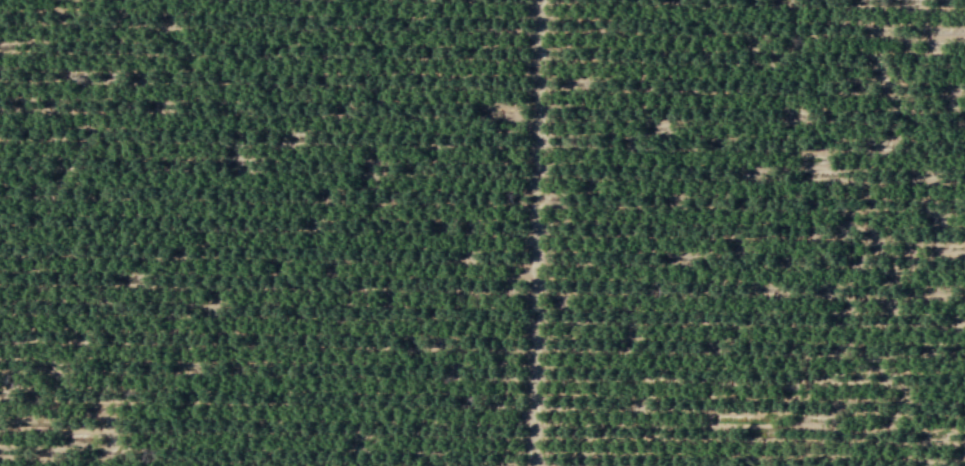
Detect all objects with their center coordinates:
road: (533, 233)

